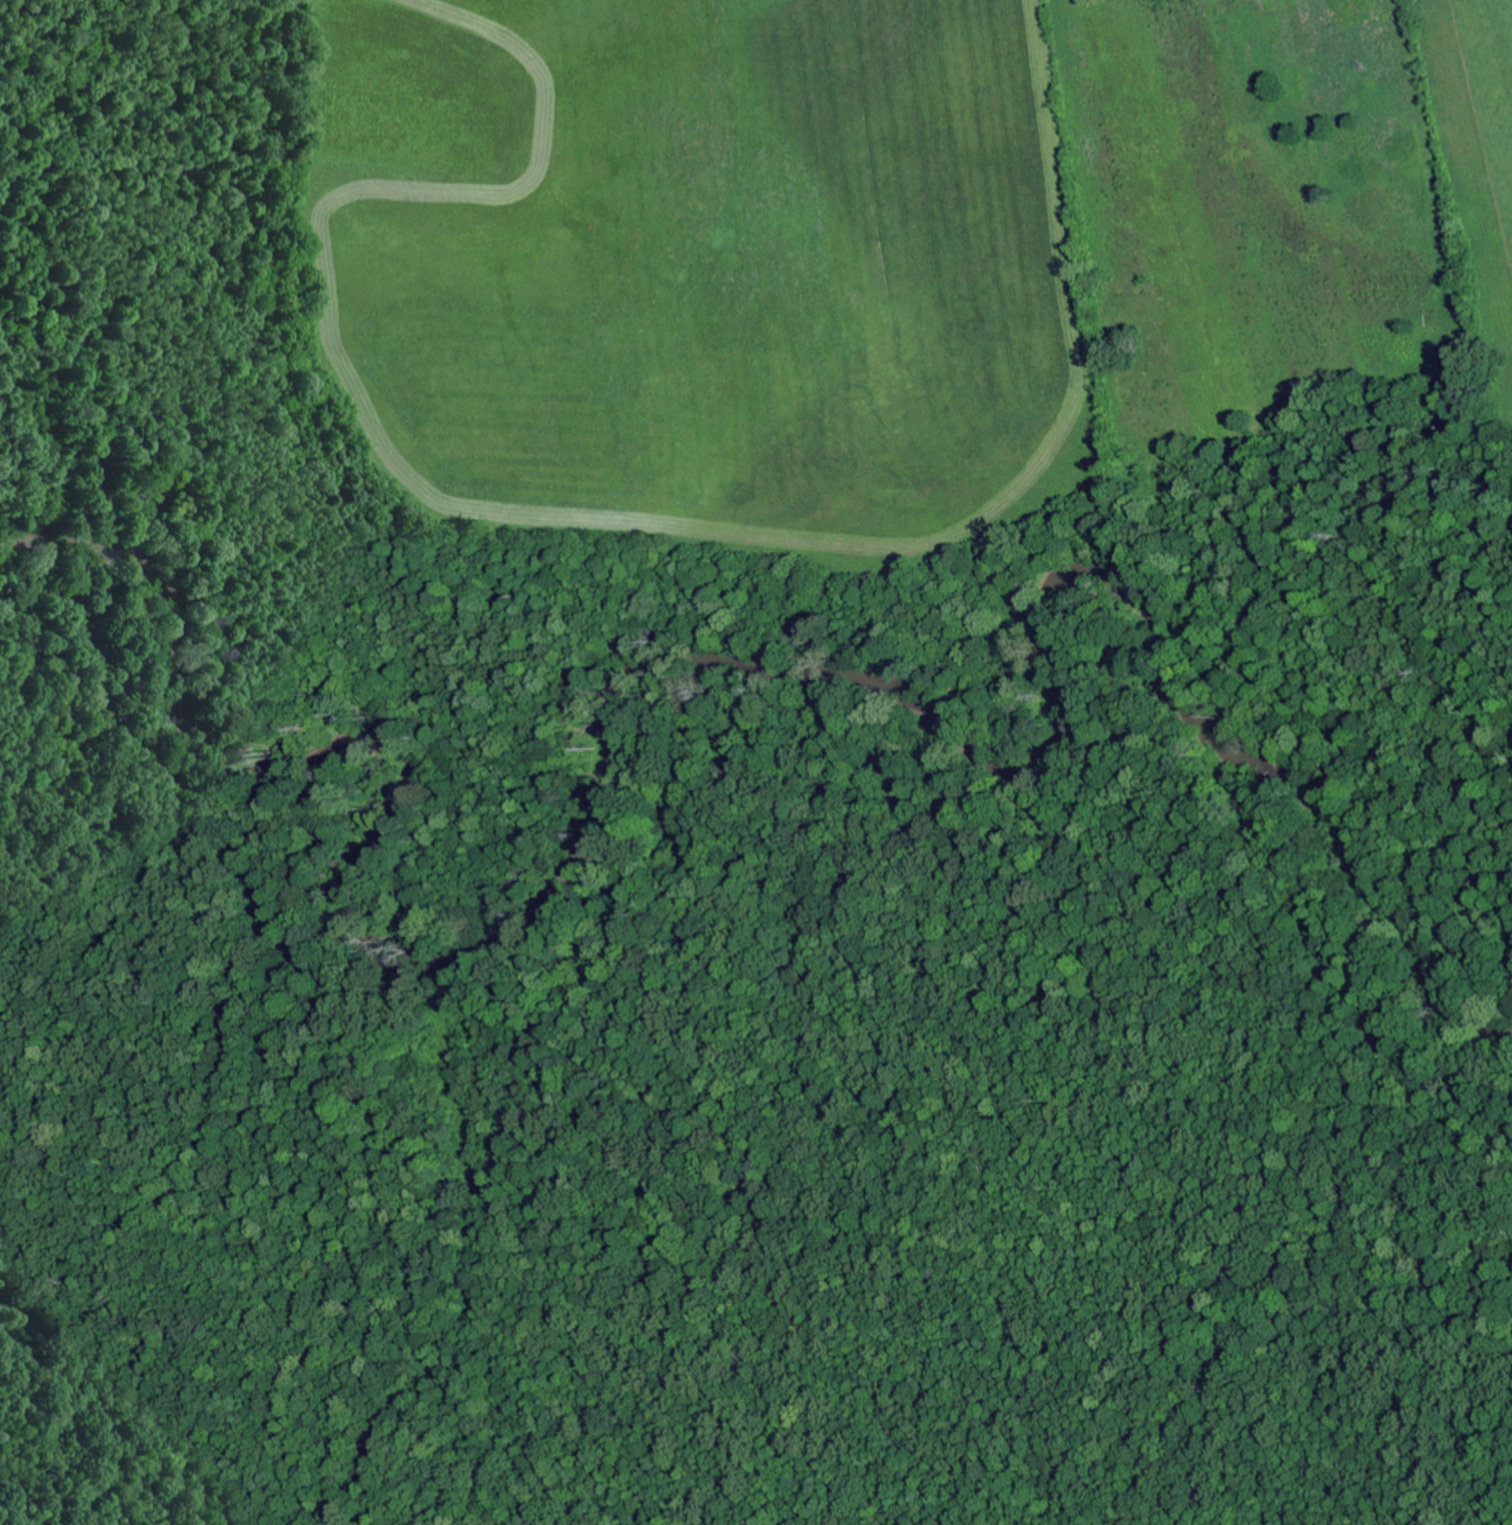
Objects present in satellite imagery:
river: (656, 662)

